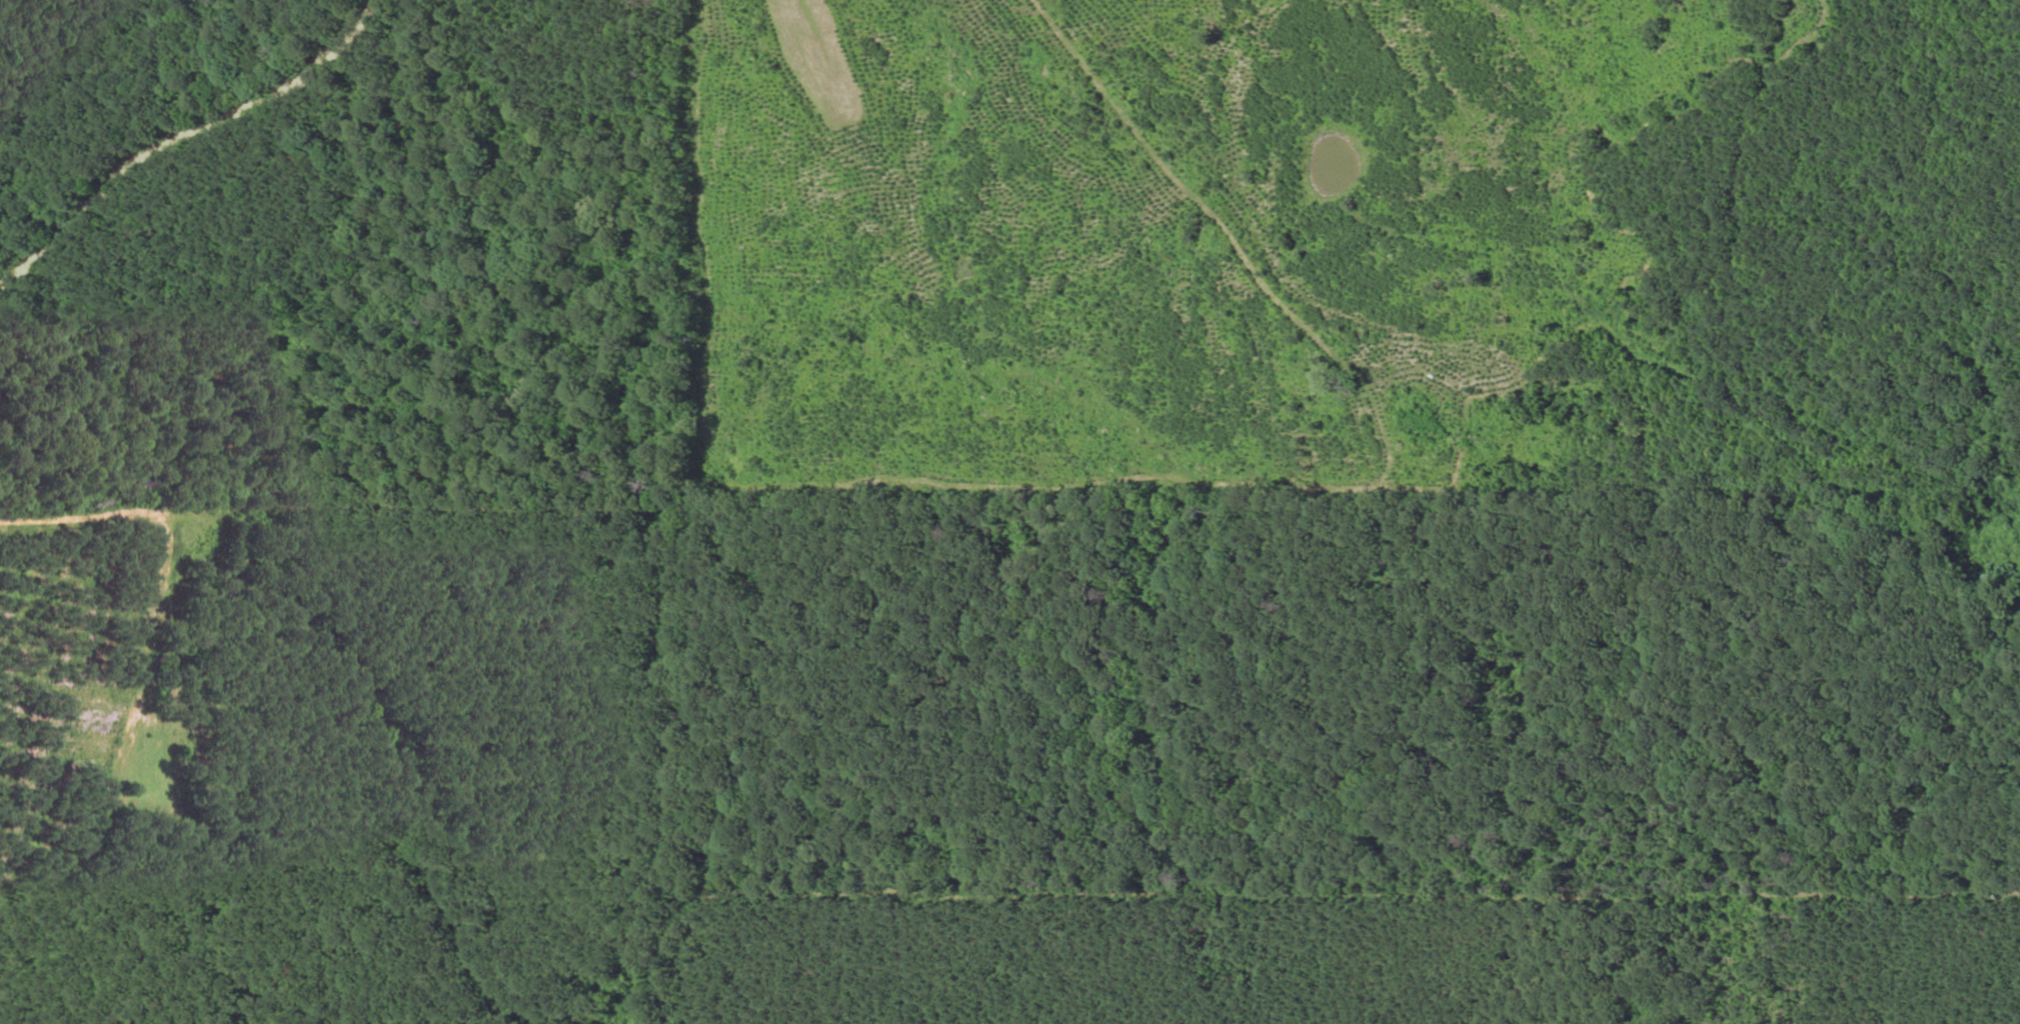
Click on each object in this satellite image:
road: (186, 145)
road: (1388, 448)

